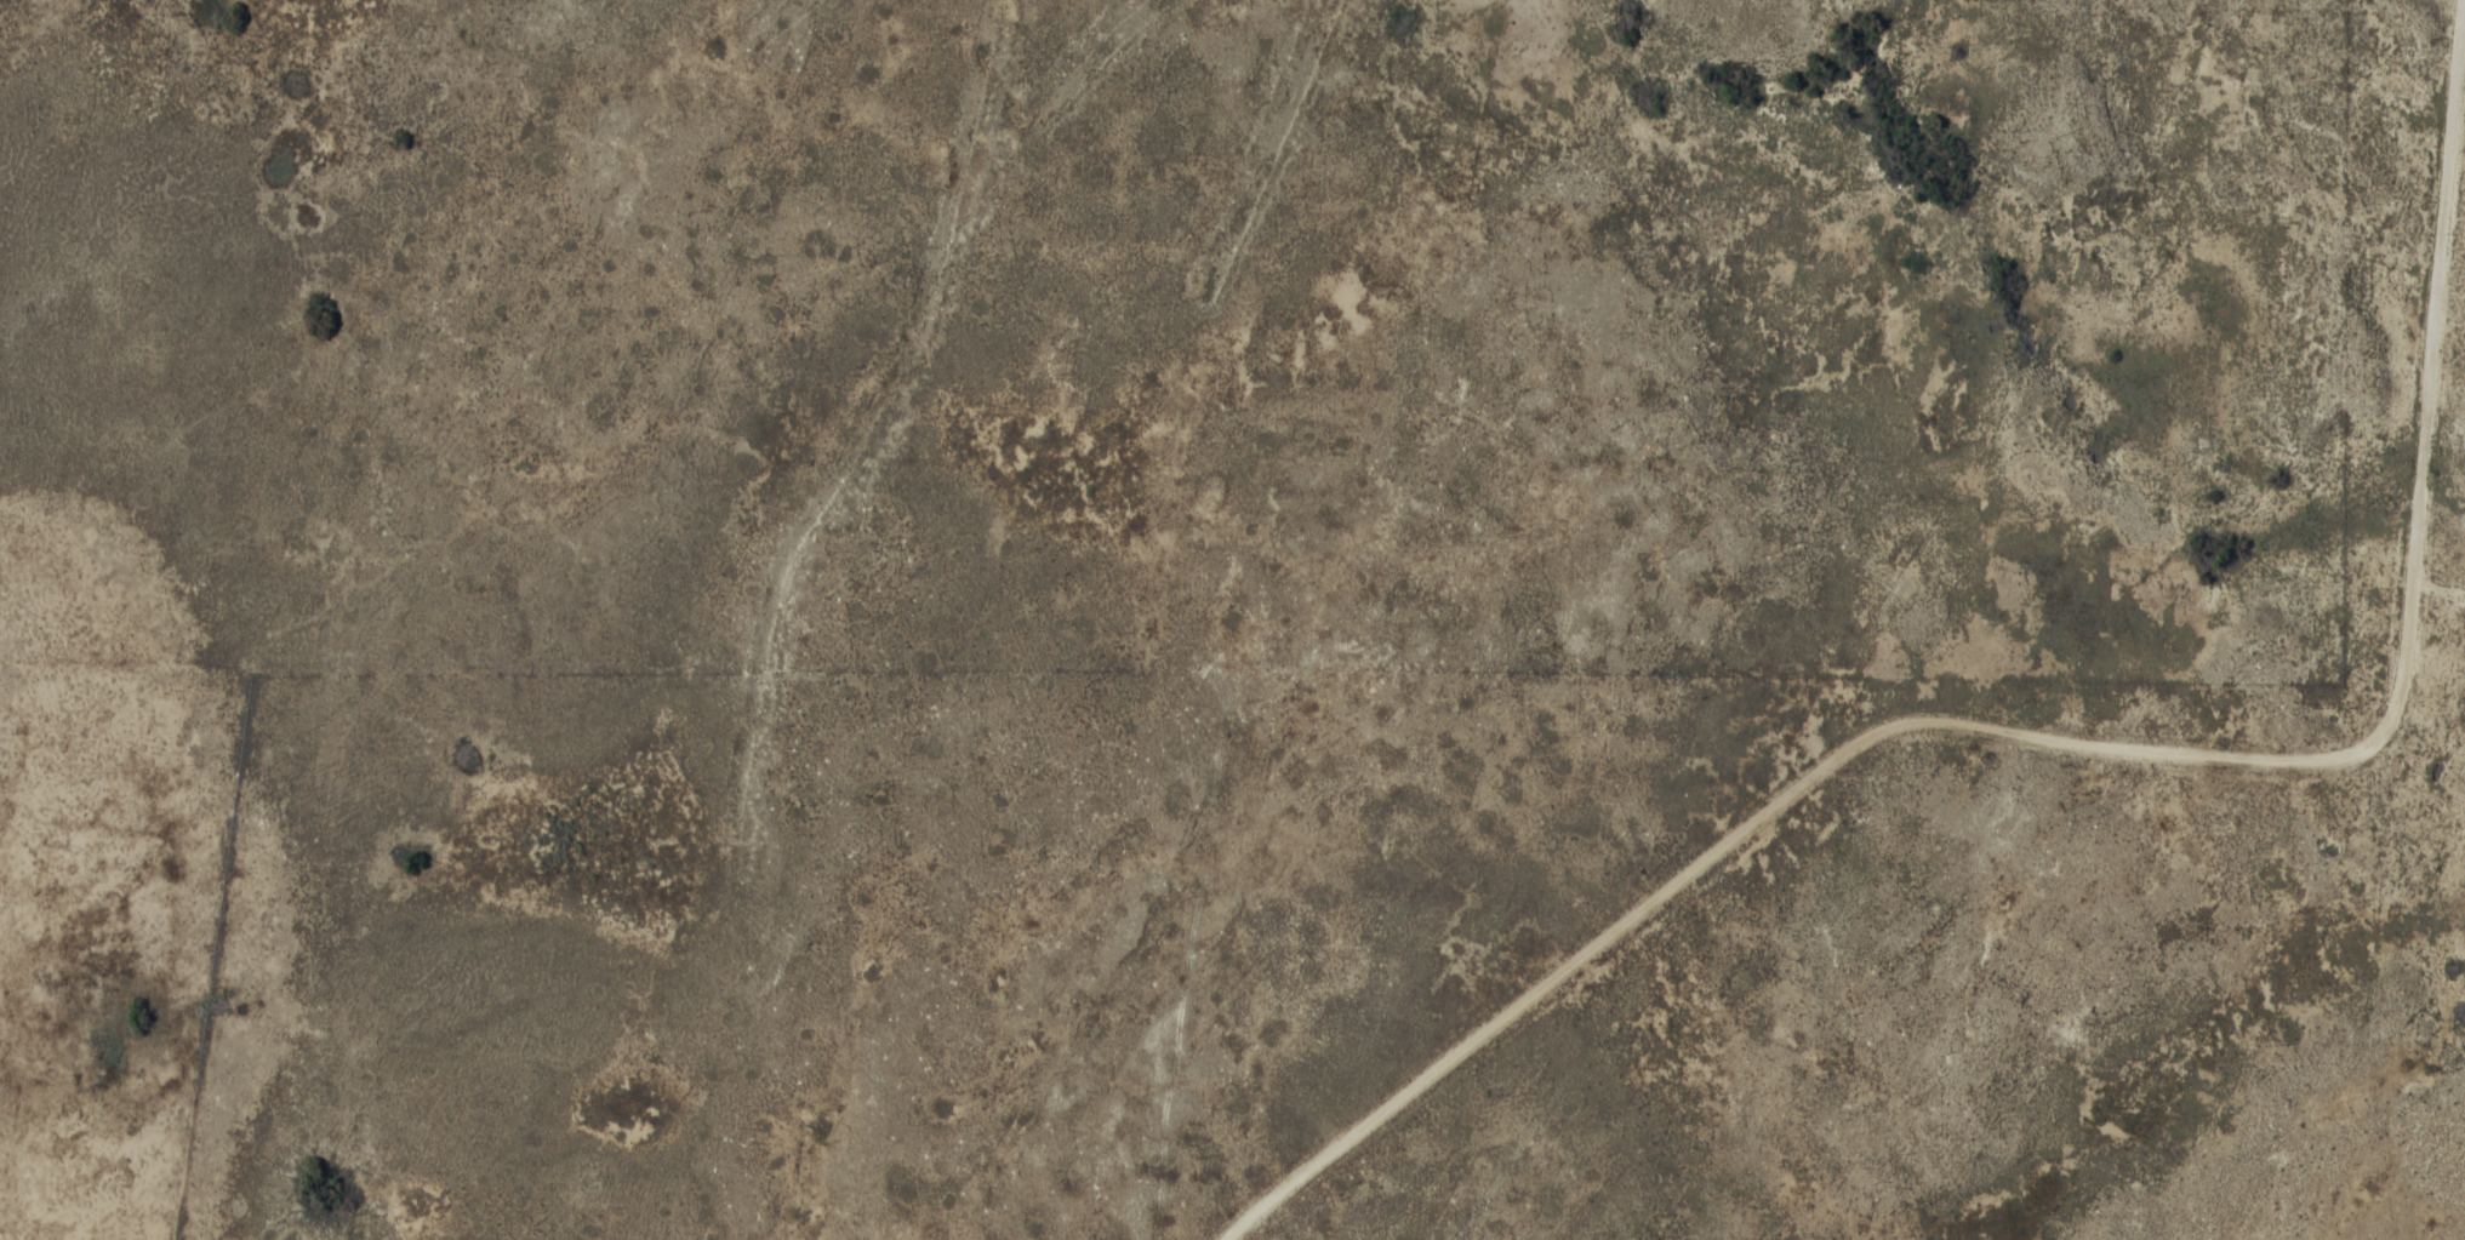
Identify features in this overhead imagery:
road: (2055, 722)

